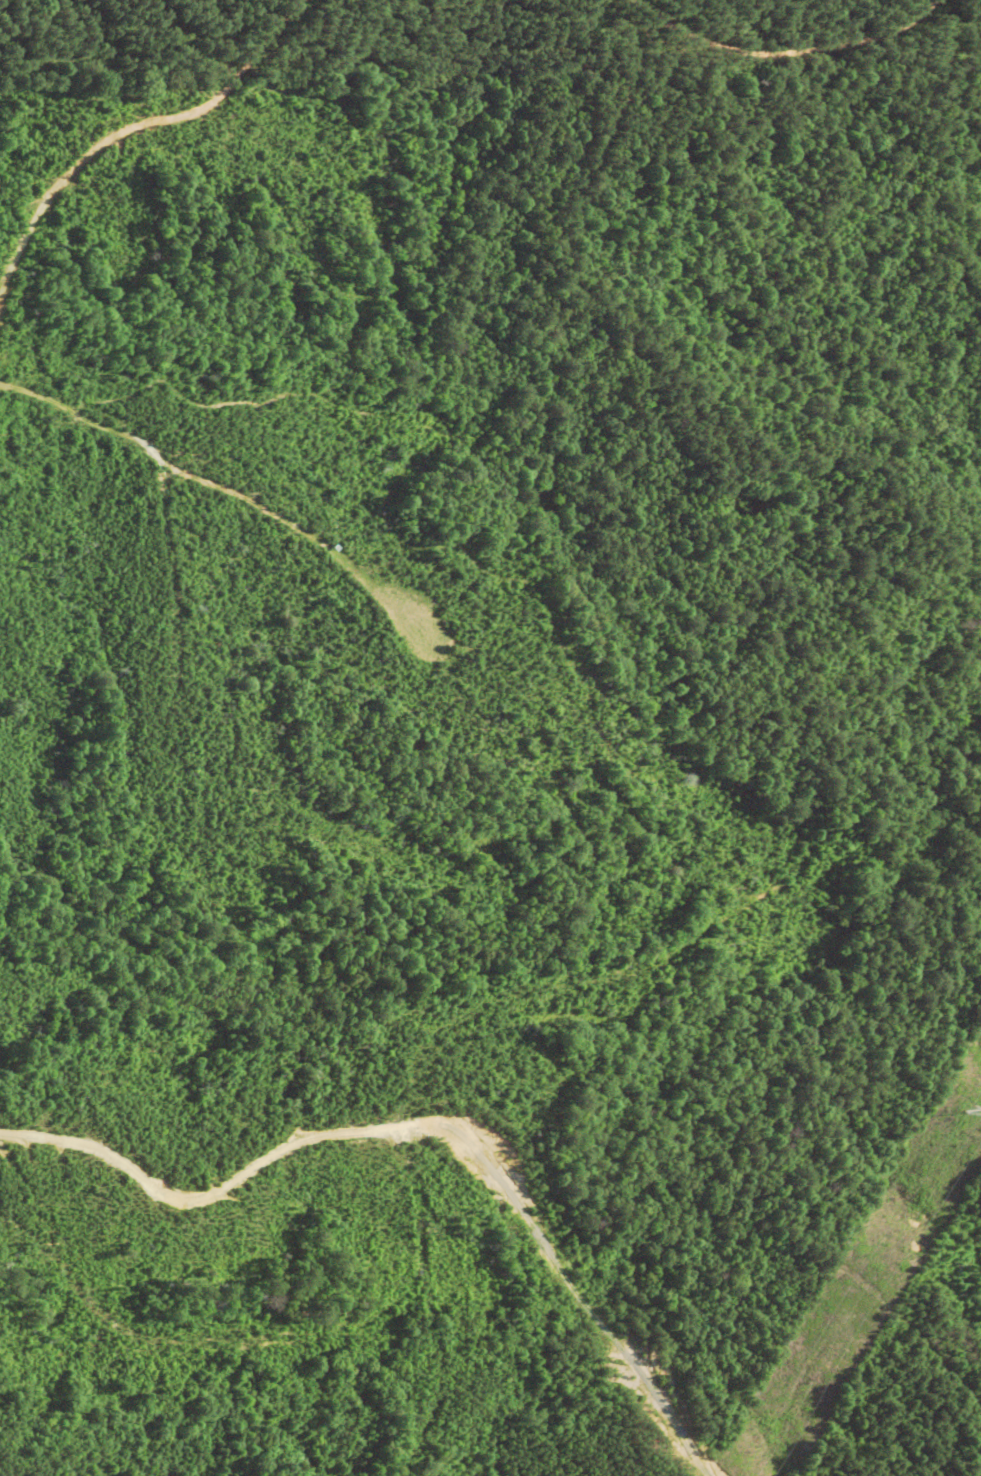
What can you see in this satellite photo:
power tower: (964, 1113)

